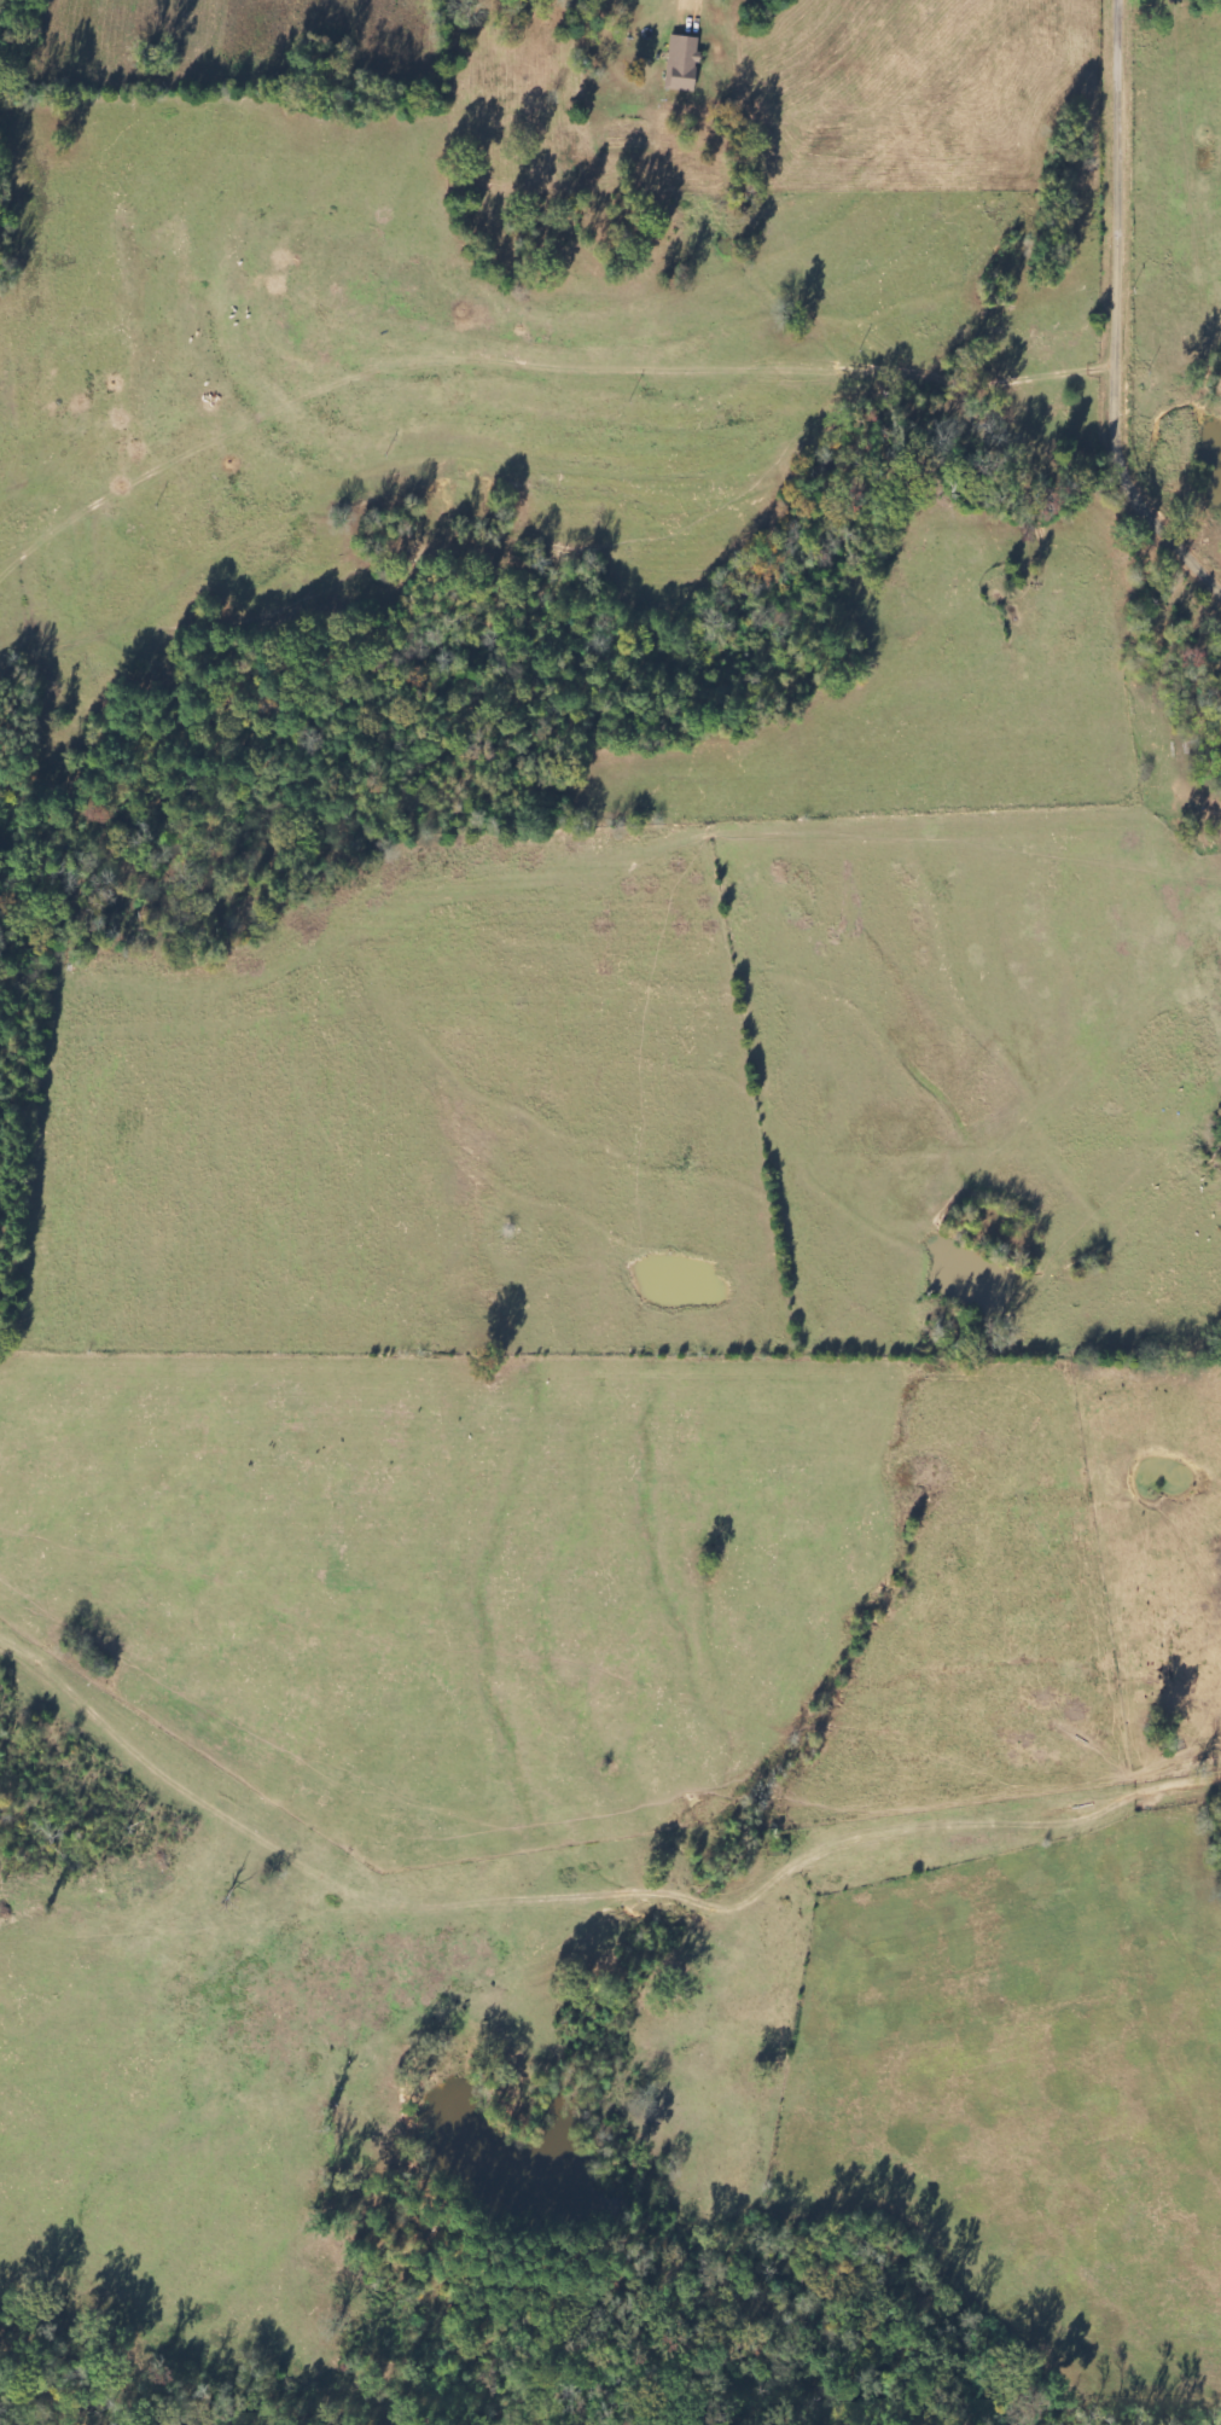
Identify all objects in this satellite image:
building: (680, 64)
road: (1174, 170)
road: (1127, 302)

